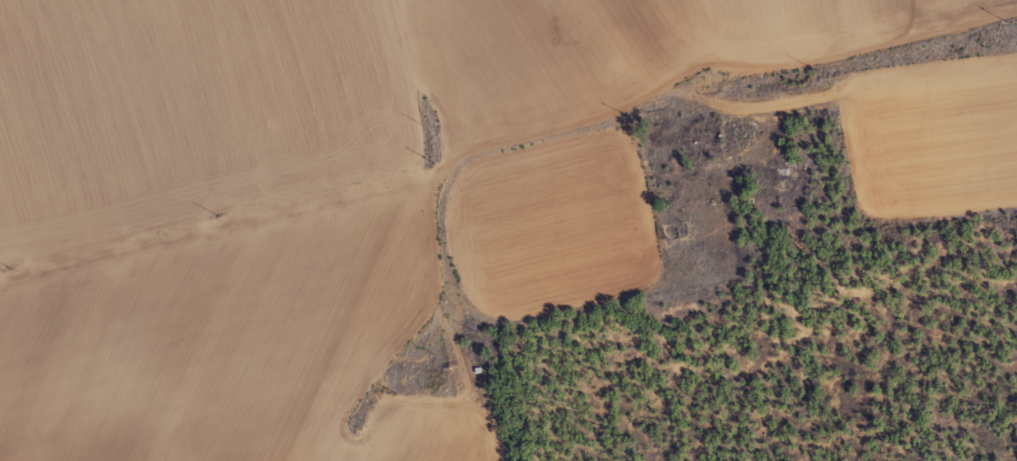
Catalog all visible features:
building: (741, 130)

